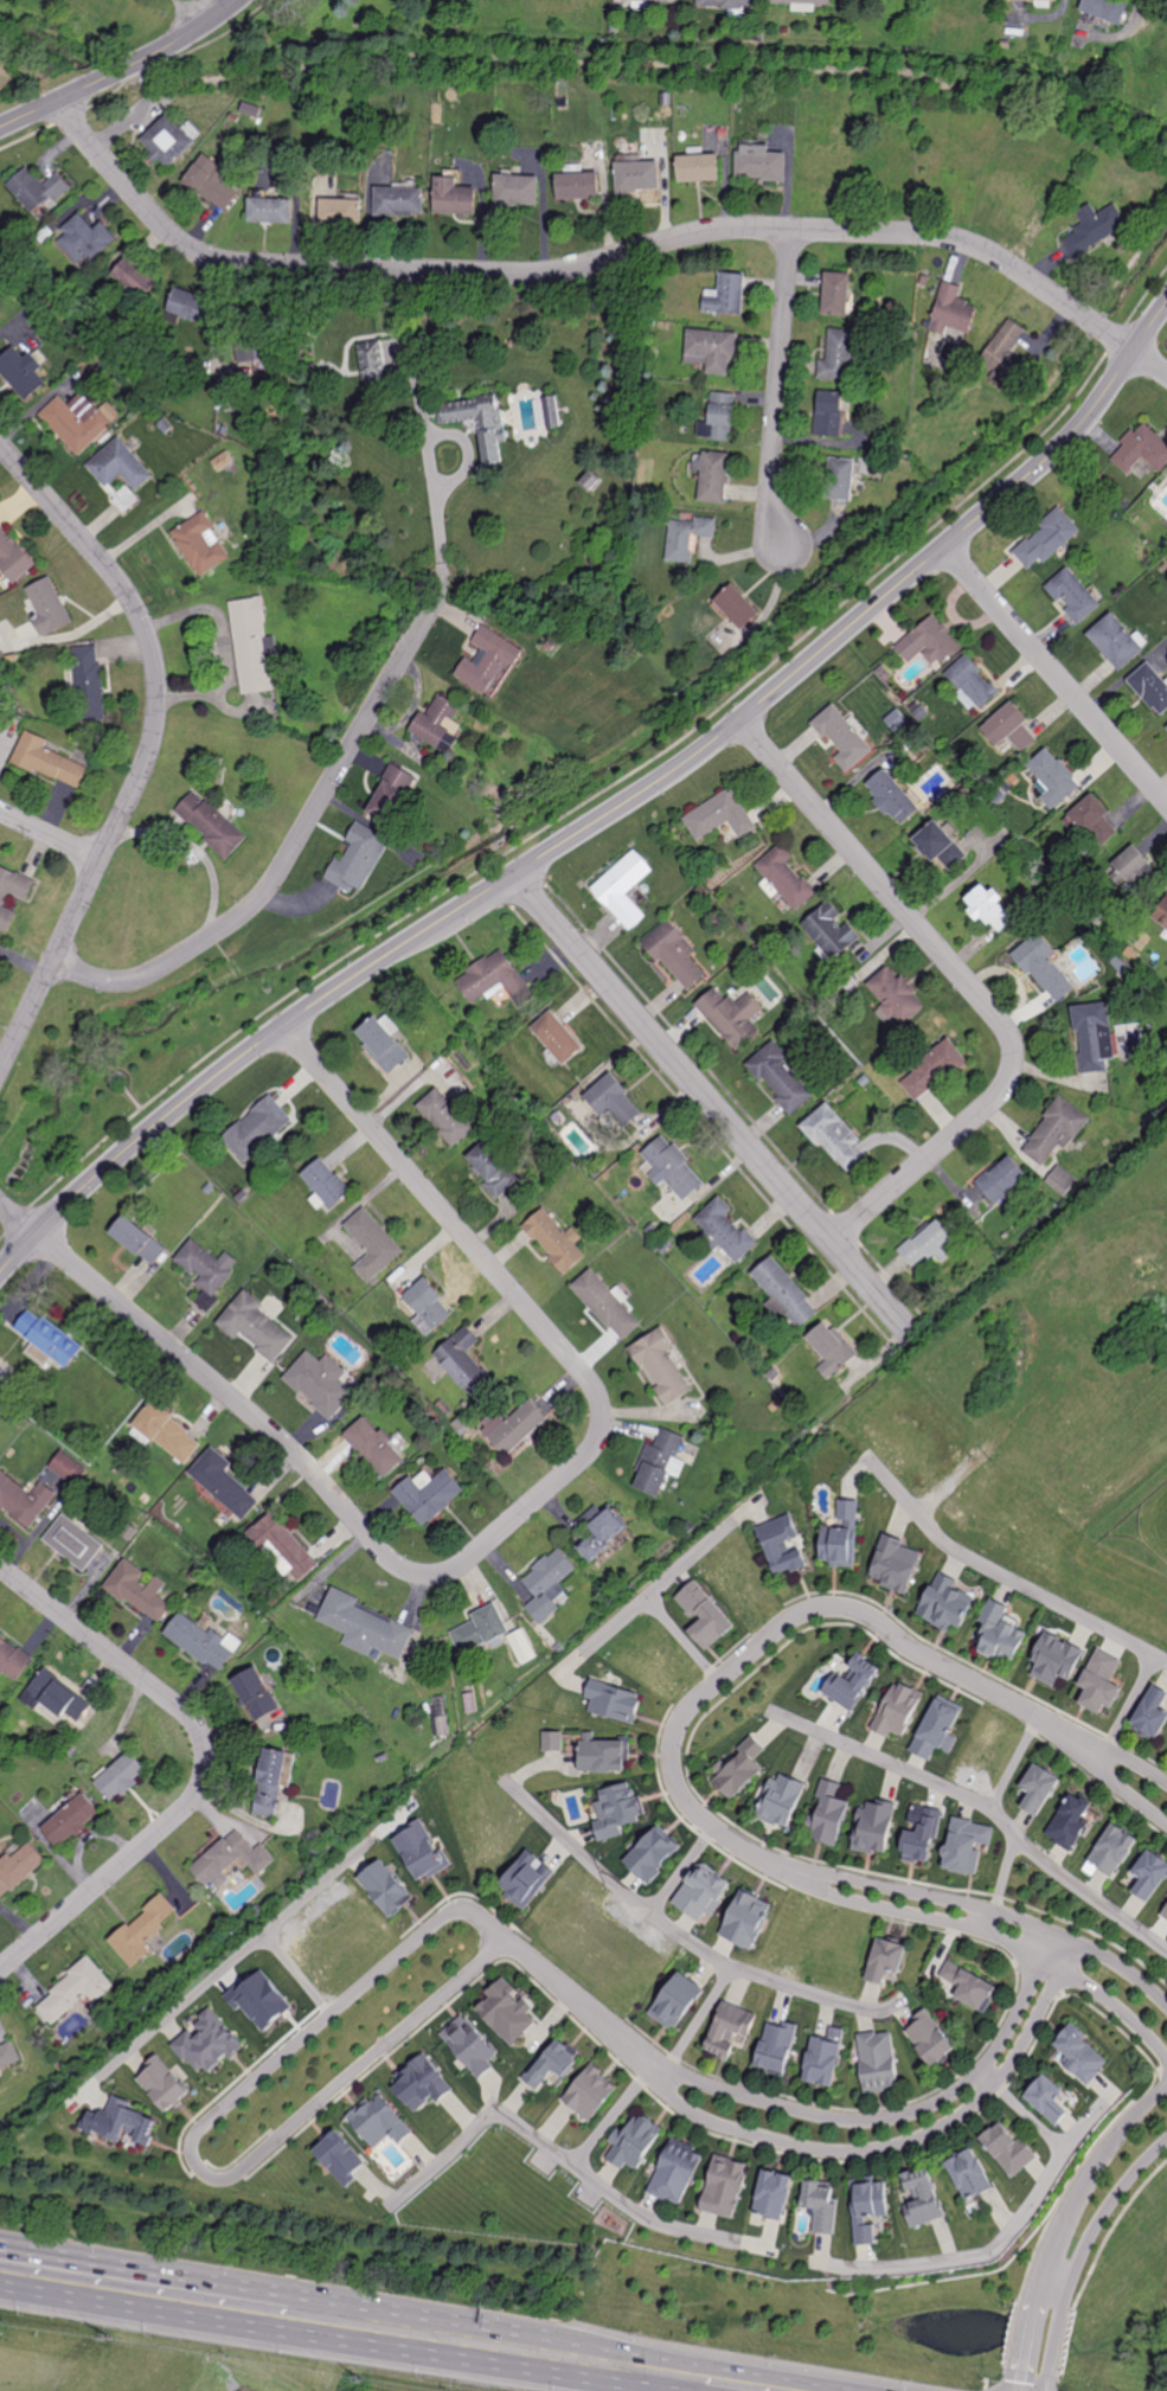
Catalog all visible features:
building: (648, 0)
building: (1051, 0)
building: (500, 1)
building: (803, 1)
building: (569, 2)
building: (729, 2)
road: (207, 7)
building: (92, 8)
building: (1108, 8)
building: (8, 12)
building: (297, 26)
building: (762, 34)
building: (1159, 37)
building: (1006, 44)
road: (123, 70)
building: (440, 85)
building: (320, 95)
building: (303, 96)
building: (740, 97)
building: (1149, 97)
building: (826, 98)
building: (564, 102)
building: (990, 111)
building: (233, 117)
building: (168, 140)
building: (1077, 140)
building: (634, 146)
building: (764, 162)
building: (823, 165)
building: (703, 166)
building: (887, 168)
building: (949, 173)
building: (640, 174)
building: (977, 179)
building: (211, 184)
building: (579, 184)
building: (38, 188)
building: (518, 188)
building: (1020, 193)
building: (455, 194)
building: (400, 200)
building: (271, 209)
building: (342, 210)
building: (1095, 227)
building: (45, 233)
building: (84, 238)
road: (599, 261)
building: (135, 276)
building: (836, 291)
building: (731, 294)
building: (37, 305)
building: (191, 305)
building: (953, 310)
building: (411, 332)
building: (283, 345)
building: (258, 348)
building: (714, 348)
building: (1005, 352)
building: (839, 355)
building: (374, 360)
building: (313, 365)
building: (23, 371)
road: (778, 390)
building: (553, 411)
building: (831, 414)
building: (724, 415)
building: (481, 422)
building: (75, 424)
building: (223, 430)
building: (1142, 449)
building: (275, 453)
road: (429, 463)
building: (120, 472)
building: (717, 476)
building: (841, 479)
building: (592, 480)
building: (690, 537)
building: (1045, 538)
building: (200, 544)
building: (13, 557)
building: (1073, 595)
building: (738, 605)
building: (49, 608)
building: (928, 642)
building: (1115, 642)
building: (551, 643)
building: (255, 646)
building: (11, 658)
building: (489, 660)
road: (1057, 674)
building: (973, 681)
building: (89, 684)
building: (1150, 687)
building: (6, 692)
building: (437, 723)
building: (1166, 727)
building: (1009, 729)
building: (841, 736)
road: (149, 745)
building: (46, 759)
building: (432, 769)
building: (218, 775)
building: (1052, 777)
building: (393, 791)
building: (891, 796)
road: (607, 815)
building: (719, 815)
building: (1092, 820)
building: (212, 825)
road: (50, 835)
building: (938, 846)
road: (291, 851)
building: (357, 855)
building: (1133, 867)
building: (786, 878)
building: (623, 890)
building: (23, 895)
building: (989, 908)
building: (1161, 916)
building: (828, 930)
building: (673, 954)
building: (1044, 968)
building: (494, 979)
road: (968, 985)
building: (893, 994)
building: (731, 1017)
building: (1092, 1037)
building: (557, 1038)
park: (160, 1039)
building: (383, 1045)
building: (932, 1069)
building: (780, 1077)
building: (614, 1102)
road: (712, 1105)
building: (444, 1117)
building: (256, 1129)
building: (1053, 1130)
building: (833, 1135)
building: (672, 1168)
building: (494, 1169)
building: (1002, 1179)
building: (1060, 1180)
building: (326, 1182)
building: (725, 1231)
building: (137, 1241)
building: (554, 1241)
building: (928, 1242)
building: (372, 1245)
building: (207, 1265)
building: (783, 1294)
building: (427, 1303)
building: (605, 1305)
building: (254, 1326)
building: (40, 1332)
building: (829, 1348)
building: (38, 1354)
building: (464, 1364)
building: (660, 1365)
building: (2, 1373)
building: (319, 1384)
building: (515, 1427)
building: (165, 1430)
building: (373, 1444)
building: (659, 1461)
building: (68, 1468)
building: (223, 1483)
building: (429, 1495)
building: (25, 1501)
road: (502, 1530)
building: (599, 1531)
building: (838, 1539)
building: (73, 1543)
building: (282, 1549)
building: (781, 1549)
road: (688, 1560)
building: (897, 1566)
road: (1004, 1579)
building: (137, 1588)
building: (547, 1588)
building: (944, 1602)
road: (656, 1609)
building: (704, 1615)
building: (363, 1626)
building: (479, 1629)
building: (998, 1630)
road: (765, 1637)
building: (198, 1640)
building: (522, 1646)
building: (12, 1660)
building: (1053, 1660)
building: (851, 1684)
building: (1098, 1685)
building: (255, 1693)
building: (54, 1696)
building: (615, 1700)
road: (1129, 1703)
building: (896, 1709)
building: (1150, 1713)
building: (441, 1716)
building: (936, 1729)
building: (553, 1741)
road: (1110, 1750)
building: (602, 1755)
road: (1013, 1761)
road: (204, 1765)
building: (740, 1770)
road: (1107, 1776)
building: (121, 1777)
road: (935, 1782)
building: (270, 1783)
building: (1038, 1788)
building: (781, 1801)
building: (616, 1810)
building: (828, 1814)
building: (69, 1819)
building: (1066, 1823)
building: (874, 1827)
building: (921, 1835)
building: (966, 1846)
building: (419, 1850)
building: (1113, 1850)
building: (653, 1854)
building: (230, 1857)
building: (17, 1868)
road: (331, 1874)
building: (1149, 1874)
building: (525, 1879)
road: (616, 1886)
building: (385, 1889)
building: (701, 1893)
road: (934, 1896)
road: (1089, 1896)
building: (1163, 1915)
building: (745, 1919)
building: (140, 1932)
road: (995, 1936)
road: (1040, 1944)
road: (1063, 1954)
building: (885, 1960)
road: (1123, 1969)
road: (217, 1974)
road: (767, 1979)
building: (969, 1985)
building: (75, 1989)
road: (564, 1991)
building: (259, 1999)
building: (677, 2001)
building: (507, 2009)
road: (699, 2017)
building: (726, 2028)
building: (930, 2038)
building: (206, 2044)
building: (469, 2044)
building: (774, 2047)
building: (1081, 2055)
building: (8, 2056)
building: (825, 2057)
building: (553, 2060)
building: (878, 2062)
building: (162, 2083)
building: (423, 2083)
building: (590, 2094)
building: (1047, 2098)
road: (1032, 2116)
road: (864, 2117)
building: (379, 2121)
building: (118, 2122)
road: (528, 2130)
building: (634, 2142)
road: (190, 2145)
road: (867, 2148)
building: (1007, 2148)
building: (341, 2159)
building: (675, 2171)
building: (968, 2174)
building: (725, 2185)
building: (772, 2194)
building: (922, 2198)
building: (820, 2204)
building: (866, 2207)
road: (1063, 2222)
road: (658, 2223)
road: (996, 2251)
road: (1081, 2254)
road: (267, 2308)
road: (642, 2372)

